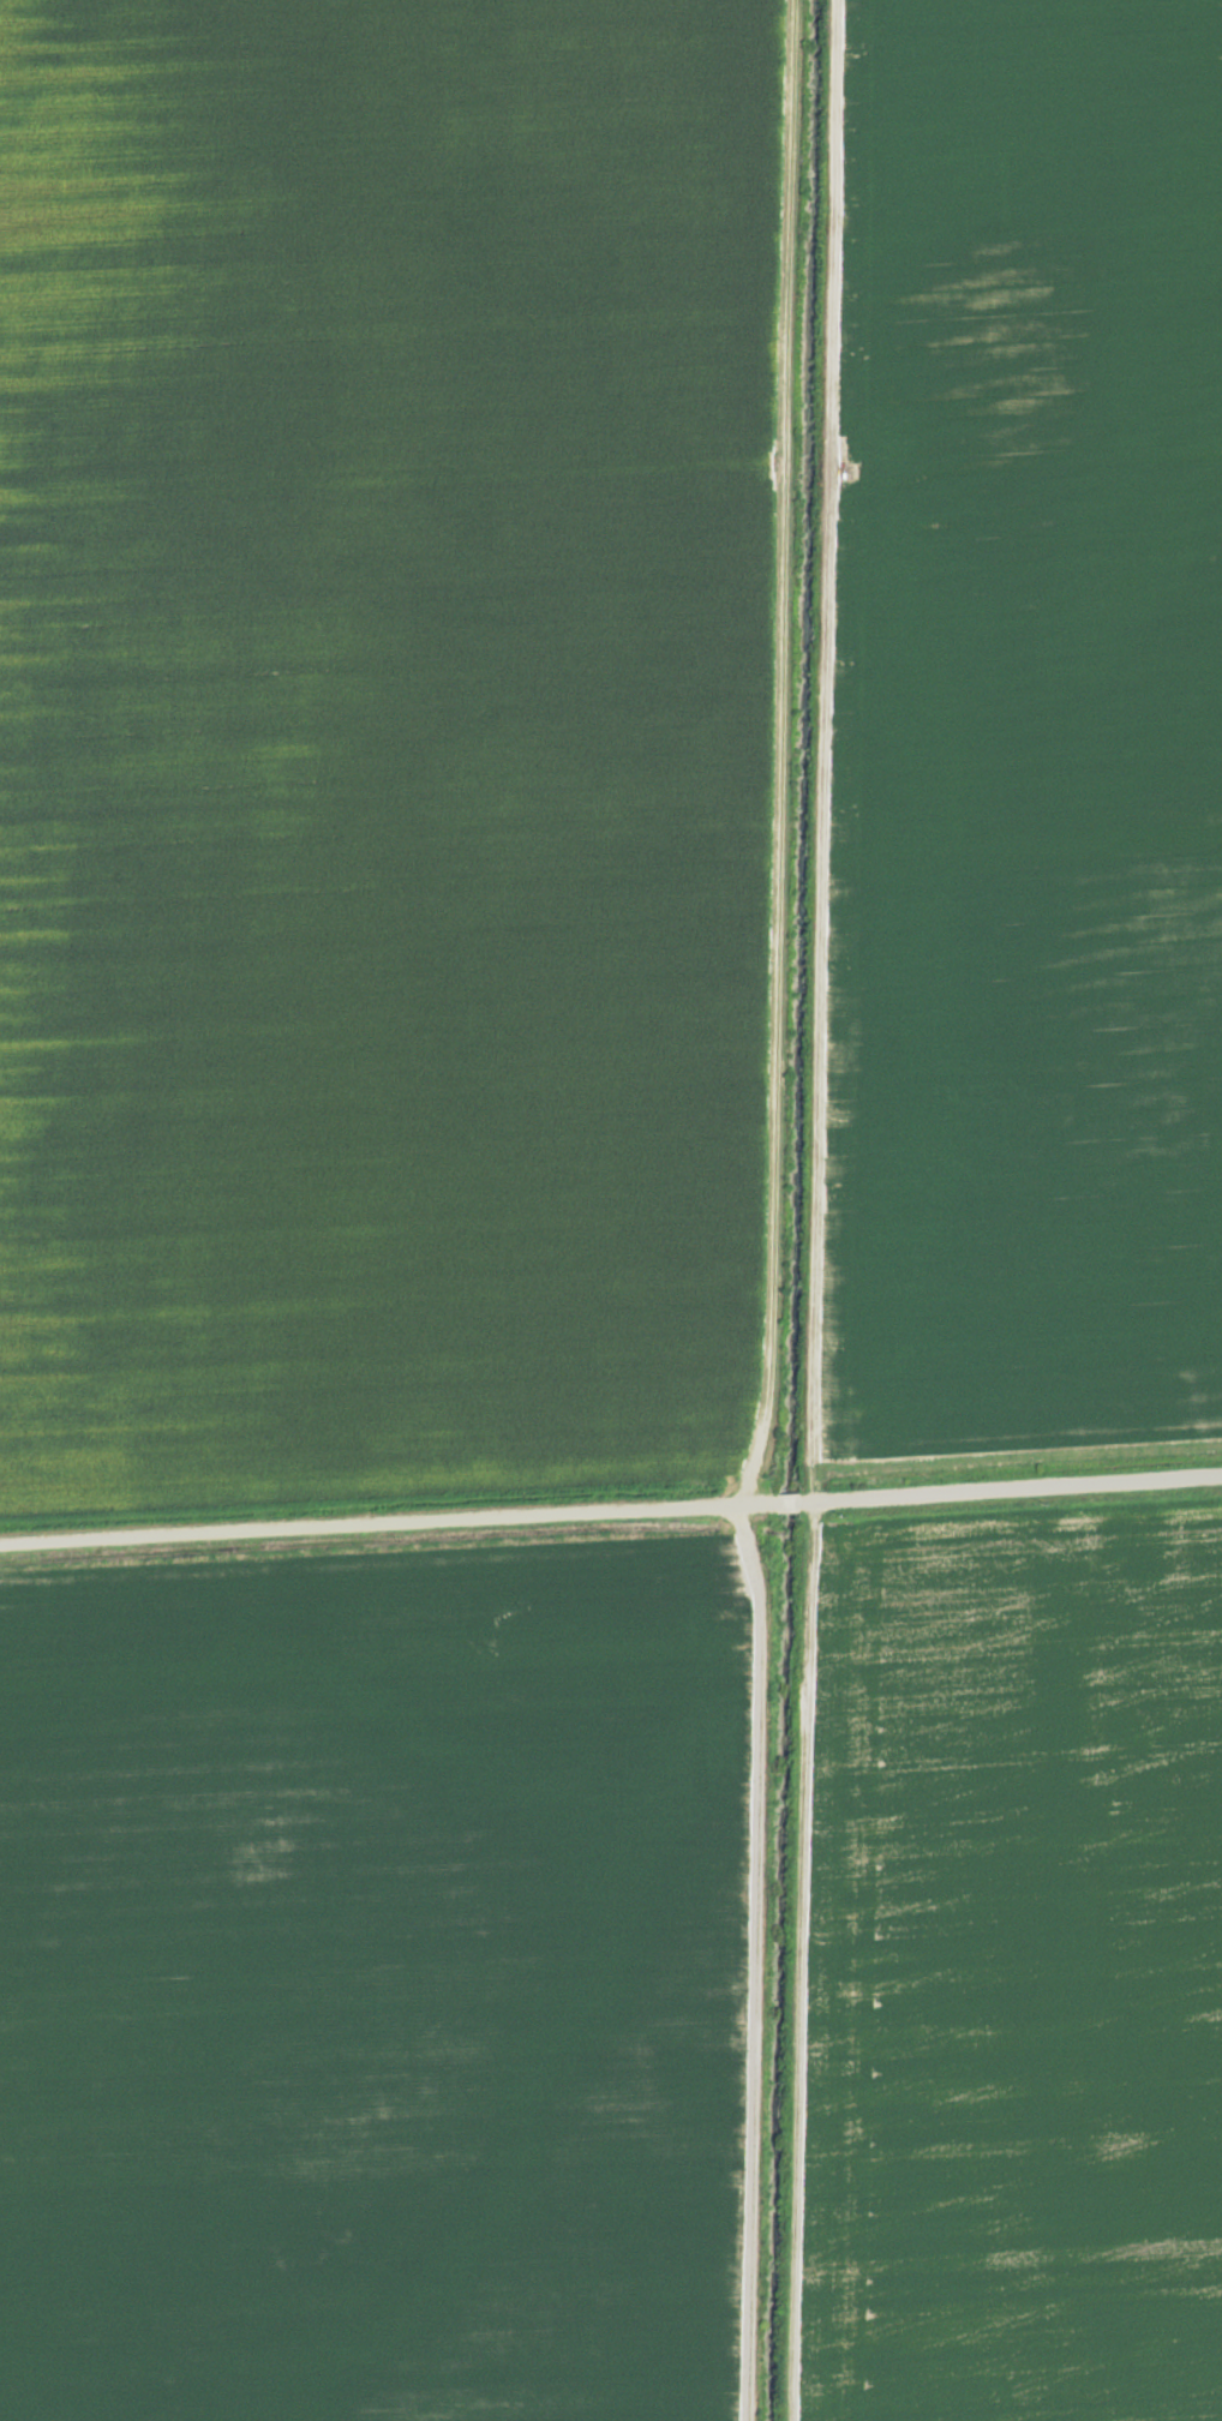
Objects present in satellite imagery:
road: (610, 1510)

